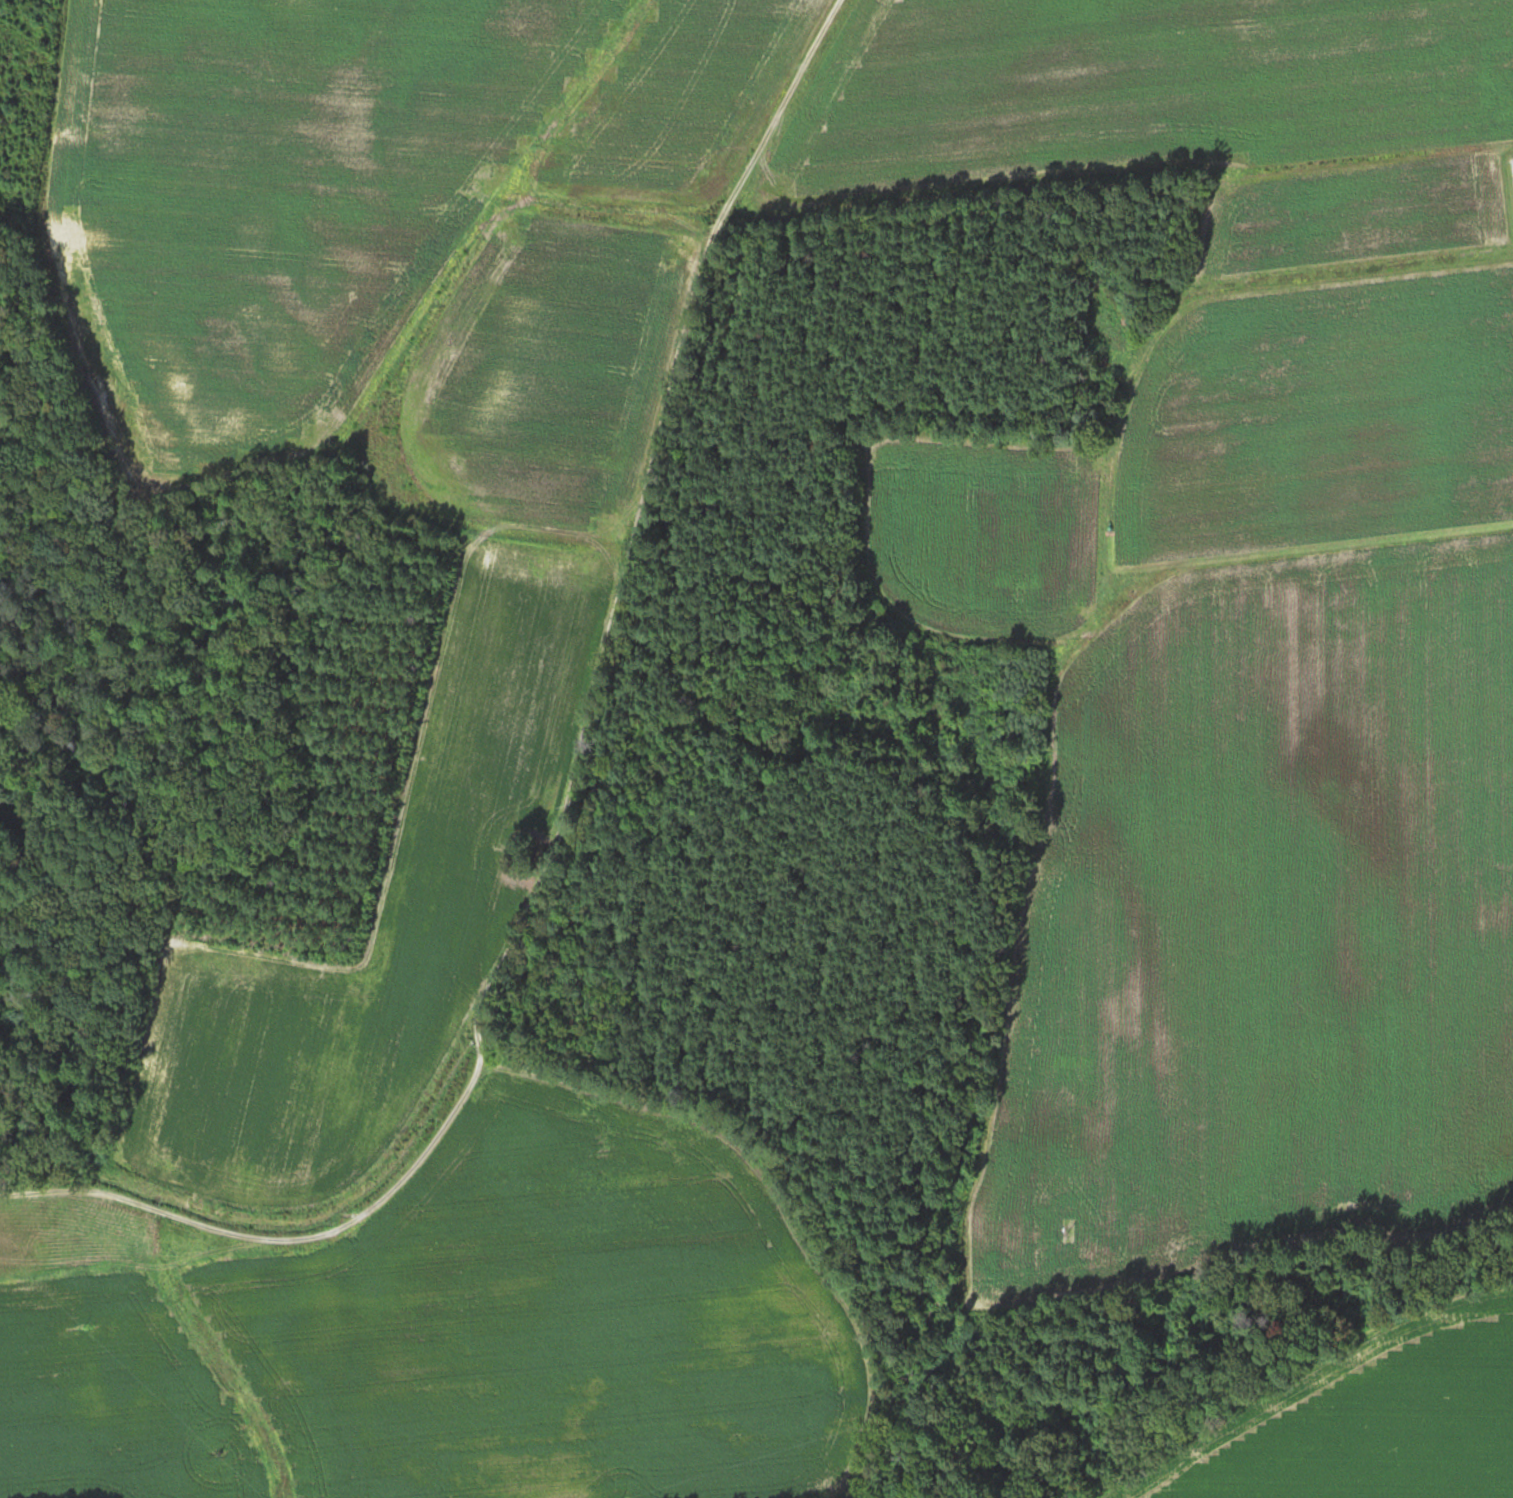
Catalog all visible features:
building: (1511, 170)

